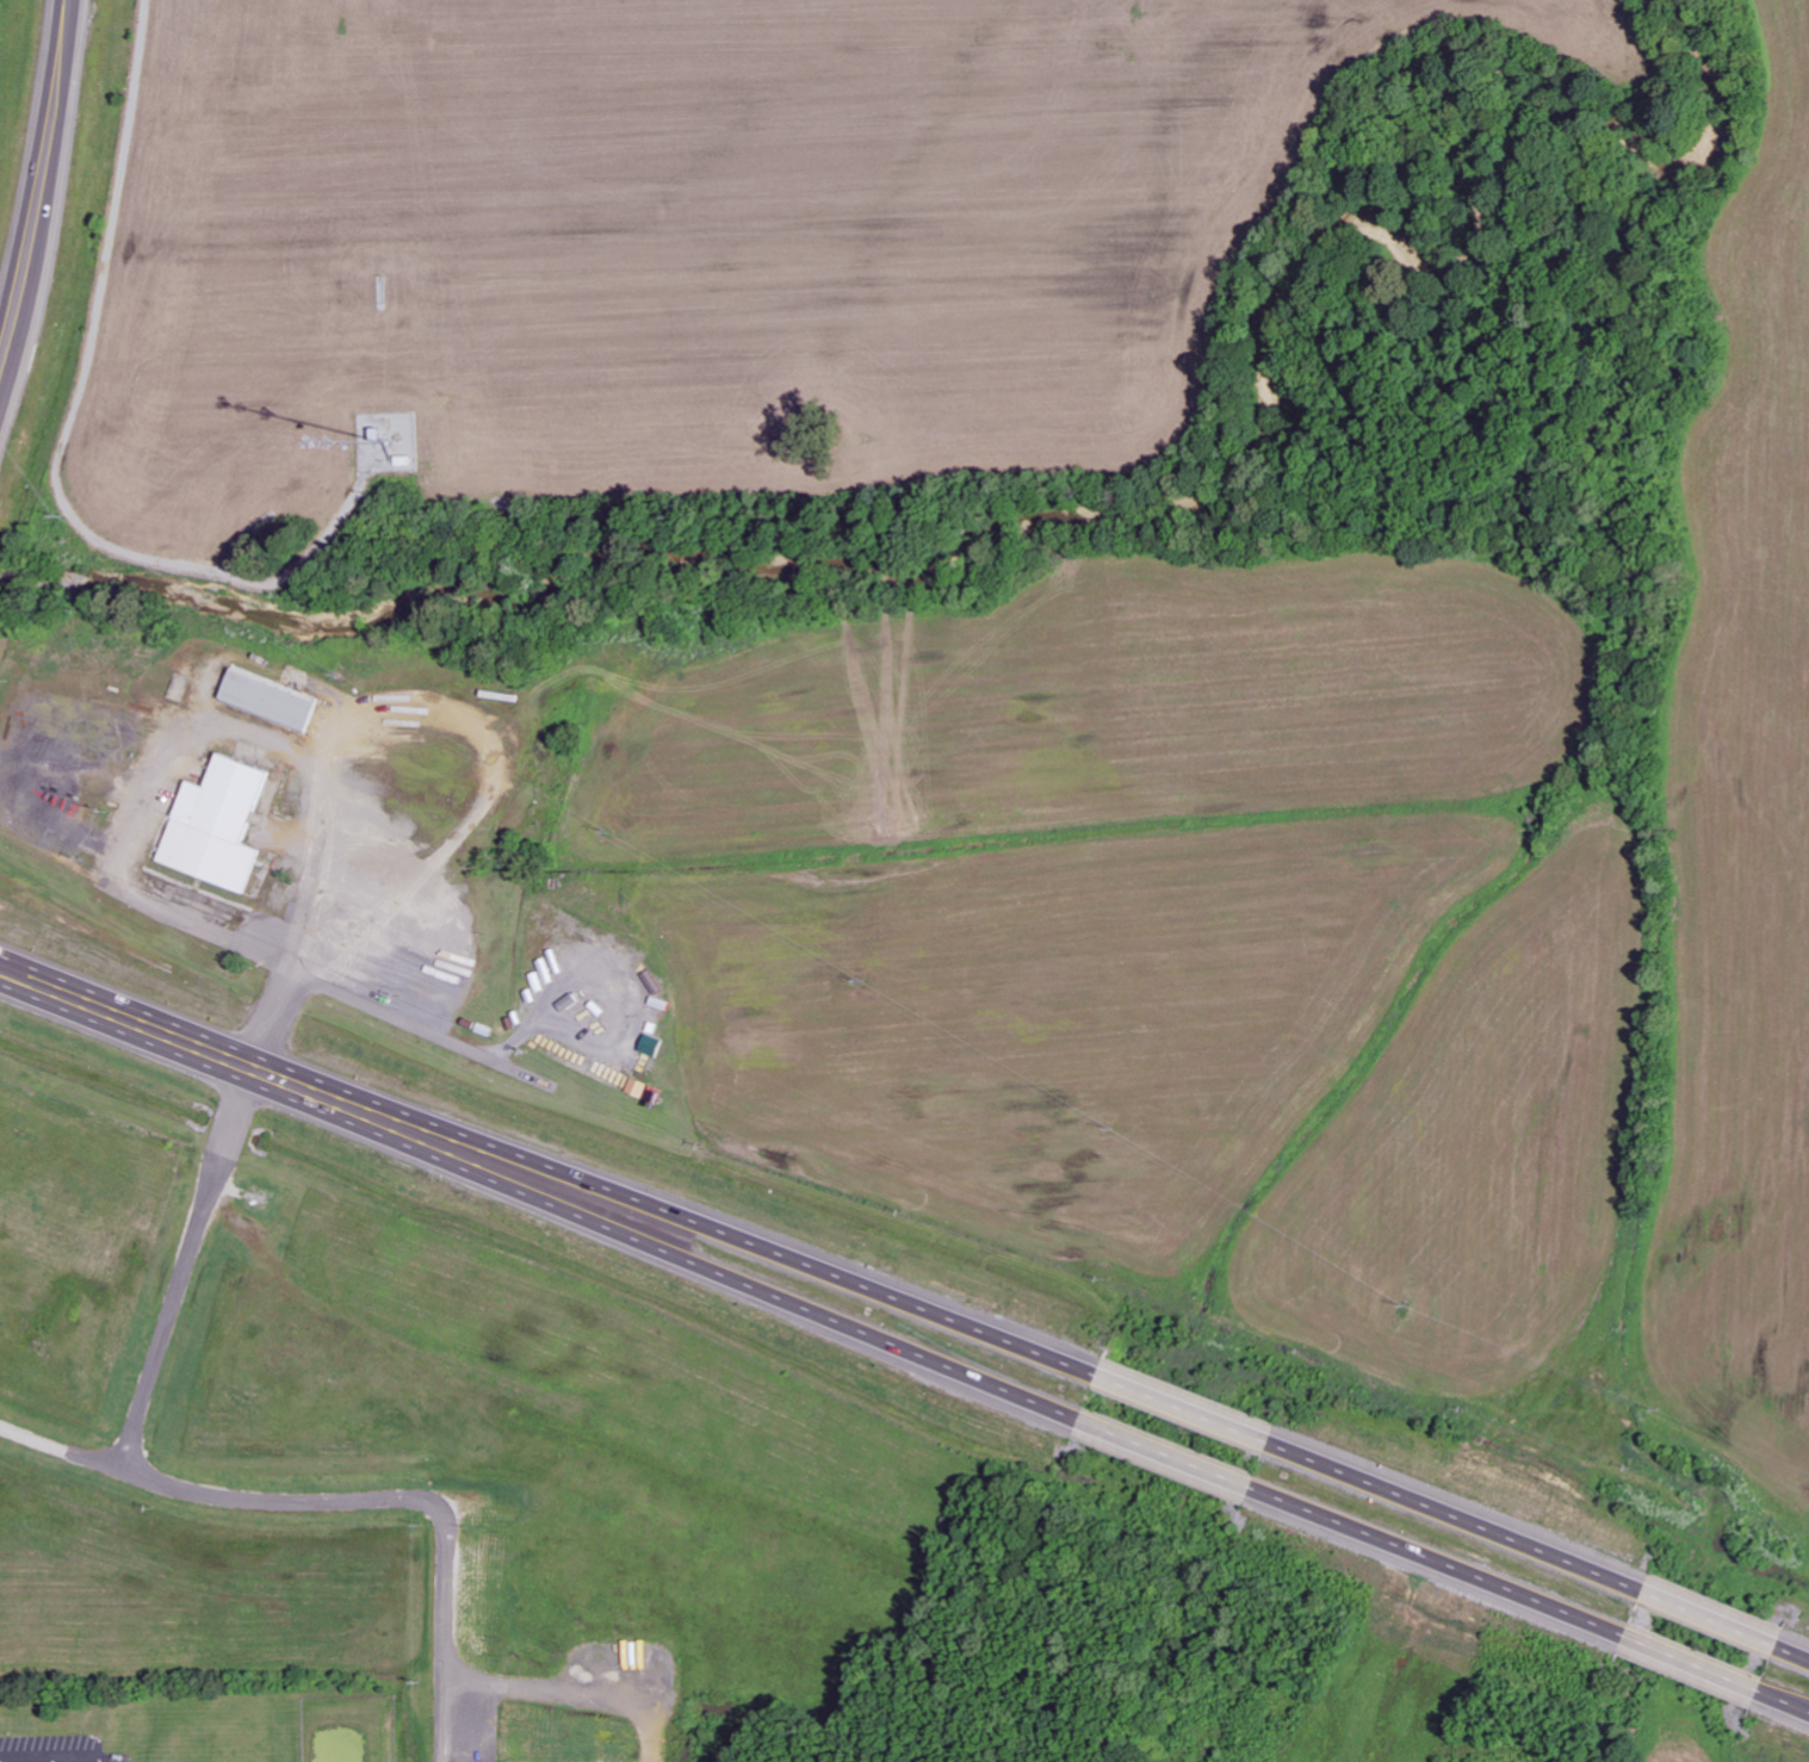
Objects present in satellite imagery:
road: (45, 188)
building: (267, 701)
building: (216, 826)
road: (244, 1060)
road: (799, 1258)
road: (782, 1295)
road: (1188, 1409)
road: (1171, 1453)
road: (1461, 1516)
road: (1444, 1564)
road: (1715, 1620)
road: (1795, 1655)
road: (1697, 1668)
road: (1786, 1705)
parking lot: (56, 1748)
road: (58, 1760)
road: (54, 1761)

